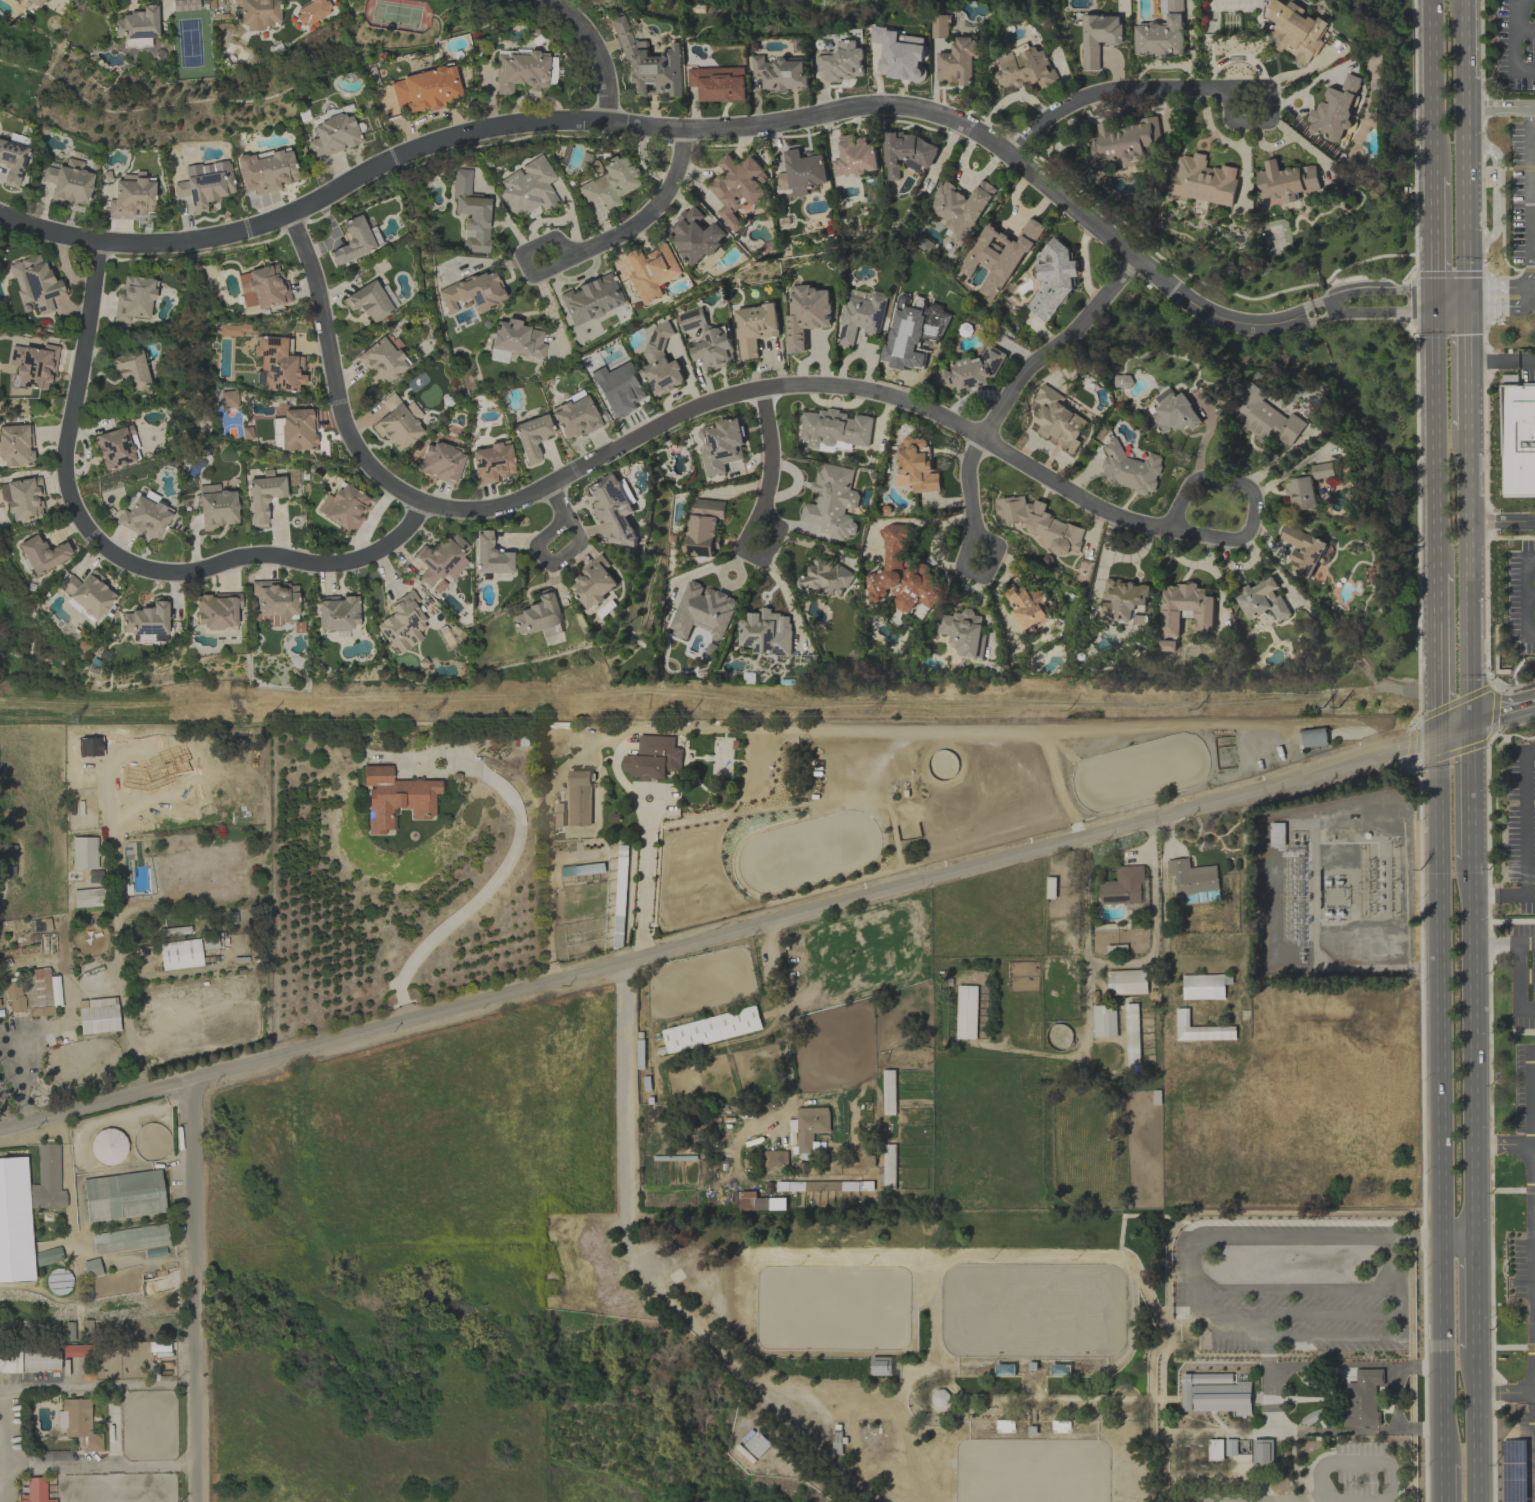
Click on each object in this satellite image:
building: (34, 2)
building: (312, 11)
building: (258, 13)
building: (136, 24)
building: (941, 25)
building: (1295, 30)
building: (1162, 32)
road: (1525, 33)
rooftop solar panel: (143, 35)
building: (1098, 36)
parking lot: (1516, 43)
road: (1515, 47)
road: (595, 50)
building: (901, 54)
building: (957, 61)
building: (647, 62)
building: (842, 62)
building: (1024, 67)
building: (519, 72)
building: (781, 73)
building: (719, 83)
road: (1186, 85)
road: (1430, 88)
building: (426, 89)
road: (1500, 105)
building: (1335, 109)
road: (688, 126)
building: (333, 135)
rooftop solar panel: (10, 142)
building: (1124, 142)
road: (1465, 150)
building: (906, 152)
rooftop solar panel: (5, 153)
building: (854, 157)
rooftop solar panel: (24, 159)
building: (12, 162)
building: (265, 171)
building: (801, 172)
rooftop solar panel: (17, 175)
rooftop solar panel: (209, 179)
building: (1202, 180)
building: (1285, 180)
building: (69, 182)
building: (609, 183)
building: (528, 187)
building: (737, 187)
building: (204, 189)
road: (1496, 193)
building: (132, 196)
building: (959, 208)
building: (471, 213)
building: (694, 235)
road: (1432, 238)
building: (353, 241)
road: (589, 249)
building: (997, 256)
road: (65, 266)
building: (650, 272)
building: (1051, 278)
rooftop solar panel: (33, 284)
building: (35, 284)
building: (263, 288)
road: (1372, 291)
building: (472, 292)
rooftop solar panel: (50, 294)
rooftop solar panel: (477, 296)
road: (1499, 296)
building: (134, 299)
building: (590, 299)
traffic signals: (1433, 300)
road: (1439, 300)
traffic signals: (1465, 300)
building: (368, 301)
road: (1338, 310)
road: (1381, 312)
building: (805, 314)
building: (859, 315)
rooftop solar panel: (881, 315)
building: (753, 327)
building: (231, 330)
rooftop solar panel: (843, 331)
building: (517, 339)
building: (705, 339)
rooftop solar panel: (274, 341)
rooftop solar panel: (268, 351)
building: (498, 356)
road: (819, 358)
building: (382, 360)
road: (1500, 360)
road: (868, 361)
building: (660, 362)
building: (34, 365)
building: (278, 365)
road: (1466, 365)
building: (130, 369)
building: (971, 370)
rooftop solar panel: (275, 371)
building: (1122, 380)
rooftop solar panel: (281, 383)
rooftop solar panel: (274, 386)
building: (619, 388)
road: (971, 395)
building: (228, 399)
road: (832, 402)
building: (1172, 413)
road: (673, 415)
building: (574, 416)
building: (1057, 418)
building: (1264, 418)
building: (398, 423)
building: (834, 428)
building: (298, 429)
road: (981, 436)
road: (1434, 436)
building: (531, 437)
building: (1518, 439)
building: (721, 444)
building: (16, 446)
building: (115, 448)
road: (1047, 448)
road: (85, 453)
building: (440, 462)
building: (492, 463)
building: (916, 464)
building: (1128, 469)
road: (1467, 476)
road: (1220, 478)
building: (1305, 486)
building: (209, 488)
road: (739, 488)
rooftop solar panel: (614, 489)
road: (795, 492)
rooftop solar panel: (620, 493)
building: (263, 498)
building: (831, 501)
building: (614, 506)
building: (344, 508)
building: (217, 510)
road: (751, 516)
building: (144, 518)
road: (372, 518)
road: (1418, 519)
road: (1500, 520)
building: (1039, 523)
building: (703, 527)
road: (64, 530)
road: (278, 533)
road: (517, 542)
road: (194, 546)
building: (1302, 549)
road: (1103, 551)
building: (42, 554)
road: (116, 555)
rooftop solar panel: (1318, 555)
building: (490, 556)
road: (564, 556)
road: (89, 559)
road: (1187, 561)
building: (441, 562)
rooftop solar panel: (428, 563)
rooftop solar panel: (438, 569)
rooftop solar panel: (1309, 569)
road: (385, 571)
building: (901, 574)
building: (826, 577)
building: (594, 582)
road: (735, 584)
road: (1487, 585)
road: (784, 592)
building: (88, 593)
road: (1527, 594)
road: (1531, 596)
building: (1120, 599)
building: (1261, 600)
building: (273, 602)
building: (1029, 606)
building: (1182, 606)
building: (217, 611)
building: (701, 611)
building: (337, 613)
building: (538, 617)
road: (1467, 618)
building: (146, 620)
building: (402, 624)
rooftop solar panel: (150, 629)
building: (765, 632)
building: (963, 632)
road: (1437, 649)
road: (1523, 683)
road: (1511, 694)
road: (1456, 701)
power tower: (239, 705)
power tower: (1329, 705)
road: (1501, 705)
road: (1421, 711)
road: (1495, 712)
road: (1533, 712)
power tower: (874, 714)
traffic signals: (1468, 716)
road: (1453, 721)
road: (1499, 721)
road: (1468, 723)
traffic signals: (1438, 726)
traffic signals: (1468, 731)
road: (1425, 732)
road: (1438, 733)
road: (1518, 734)
road: (1453, 735)
road: (1425, 739)
traffic signals: (1438, 740)
road: (1411, 743)
road: (1386, 745)
road: (1489, 748)
road: (1451, 752)
building: (653, 757)
road: (1422, 776)
road: (1468, 796)
building: (579, 797)
building: (396, 798)
road: (1489, 815)
road: (1526, 821)
parking lot: (1521, 825)
road: (1167, 830)
building: (1276, 834)
road: (1150, 842)
building: (84, 853)
building: (7, 860)
road: (505, 870)
rooftop solar panel: (585, 870)
building: (1191, 876)
road: (644, 881)
building: (1122, 886)
power substation: (1342, 886)
road: (1492, 887)
road: (1490, 895)
road: (1482, 896)
road: (1514, 896)
building: (88, 898)
road: (1489, 901)
road: (1504, 920)
road: (1495, 943)
road: (1527, 943)
road: (680, 945)
building: (180, 954)
road: (1100, 963)
road: (1527, 973)
parking lot: (1523, 975)
building: (1126, 982)
road: (1520, 984)
building: (1204, 986)
building: (34, 993)
building: (966, 1011)
building: (1103, 1020)
building: (95, 1021)
building: (711, 1029)
building: (1199, 1029)
building: (1131, 1034)
road: (1472, 1048)
road: (789, 1062)
road: (17, 1081)
building: (888, 1092)
road: (1532, 1095)
parking lot: (1525, 1101)
road: (5, 1119)
road: (1441, 1120)
building: (810, 1125)
road: (1533, 1144)
building: (108, 1146)
building: (775, 1158)
building: (47, 1180)
building: (123, 1196)
road: (1534, 1201)
building: (759, 1202)
building: (15, 1221)
road: (1458, 1235)
road: (1534, 1237)
building: (129, 1239)
road: (1391, 1263)
building: (91, 1268)
parking lot: (1524, 1268)
road: (651, 1279)
parking lot: (1293, 1283)
road: (1275, 1291)
road: (194, 1292)
park: (831, 1307)
park: (1032, 1310)
road: (1474, 1313)
road: (1308, 1315)
road: (1266, 1357)
building: (29, 1360)
building: (880, 1365)
road: (1505, 1391)
building: (1215, 1393)
building: (938, 1397)
road: (1267, 1398)
road: (1395, 1398)
building: (1363, 1399)
road: (1281, 1419)
building: (78, 1424)
road: (7, 1432)
building: (756, 1444)
road: (1475, 1446)
building: (1231, 1447)
building: (1215, 1450)
building: (1263, 1452)
parking lot: (1520, 1452)
road: (1534, 1456)
road: (1356, 1464)
park: (1032, 1470)
parking lot: (1359, 1472)
building: (36, 1490)
road: (1308, 1498)

